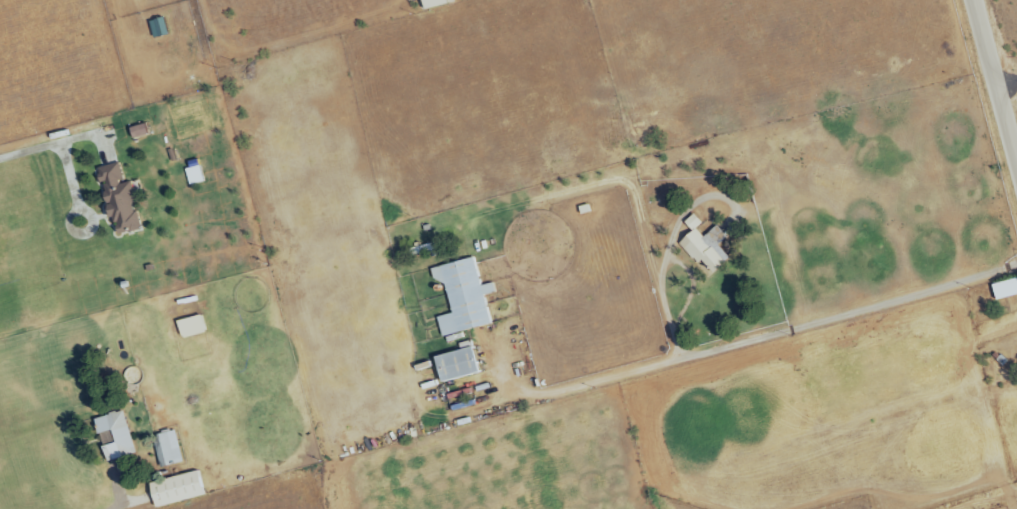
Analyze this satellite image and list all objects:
building: (434, 4)
building: (159, 28)
road: (997, 76)
road: (1009, 87)
building: (140, 132)
road: (60, 151)
building: (196, 176)
building: (121, 201)
road: (71, 223)
building: (706, 247)
building: (1006, 290)
building: (464, 298)
building: (459, 364)
building: (117, 436)
building: (168, 449)
building: (178, 490)

